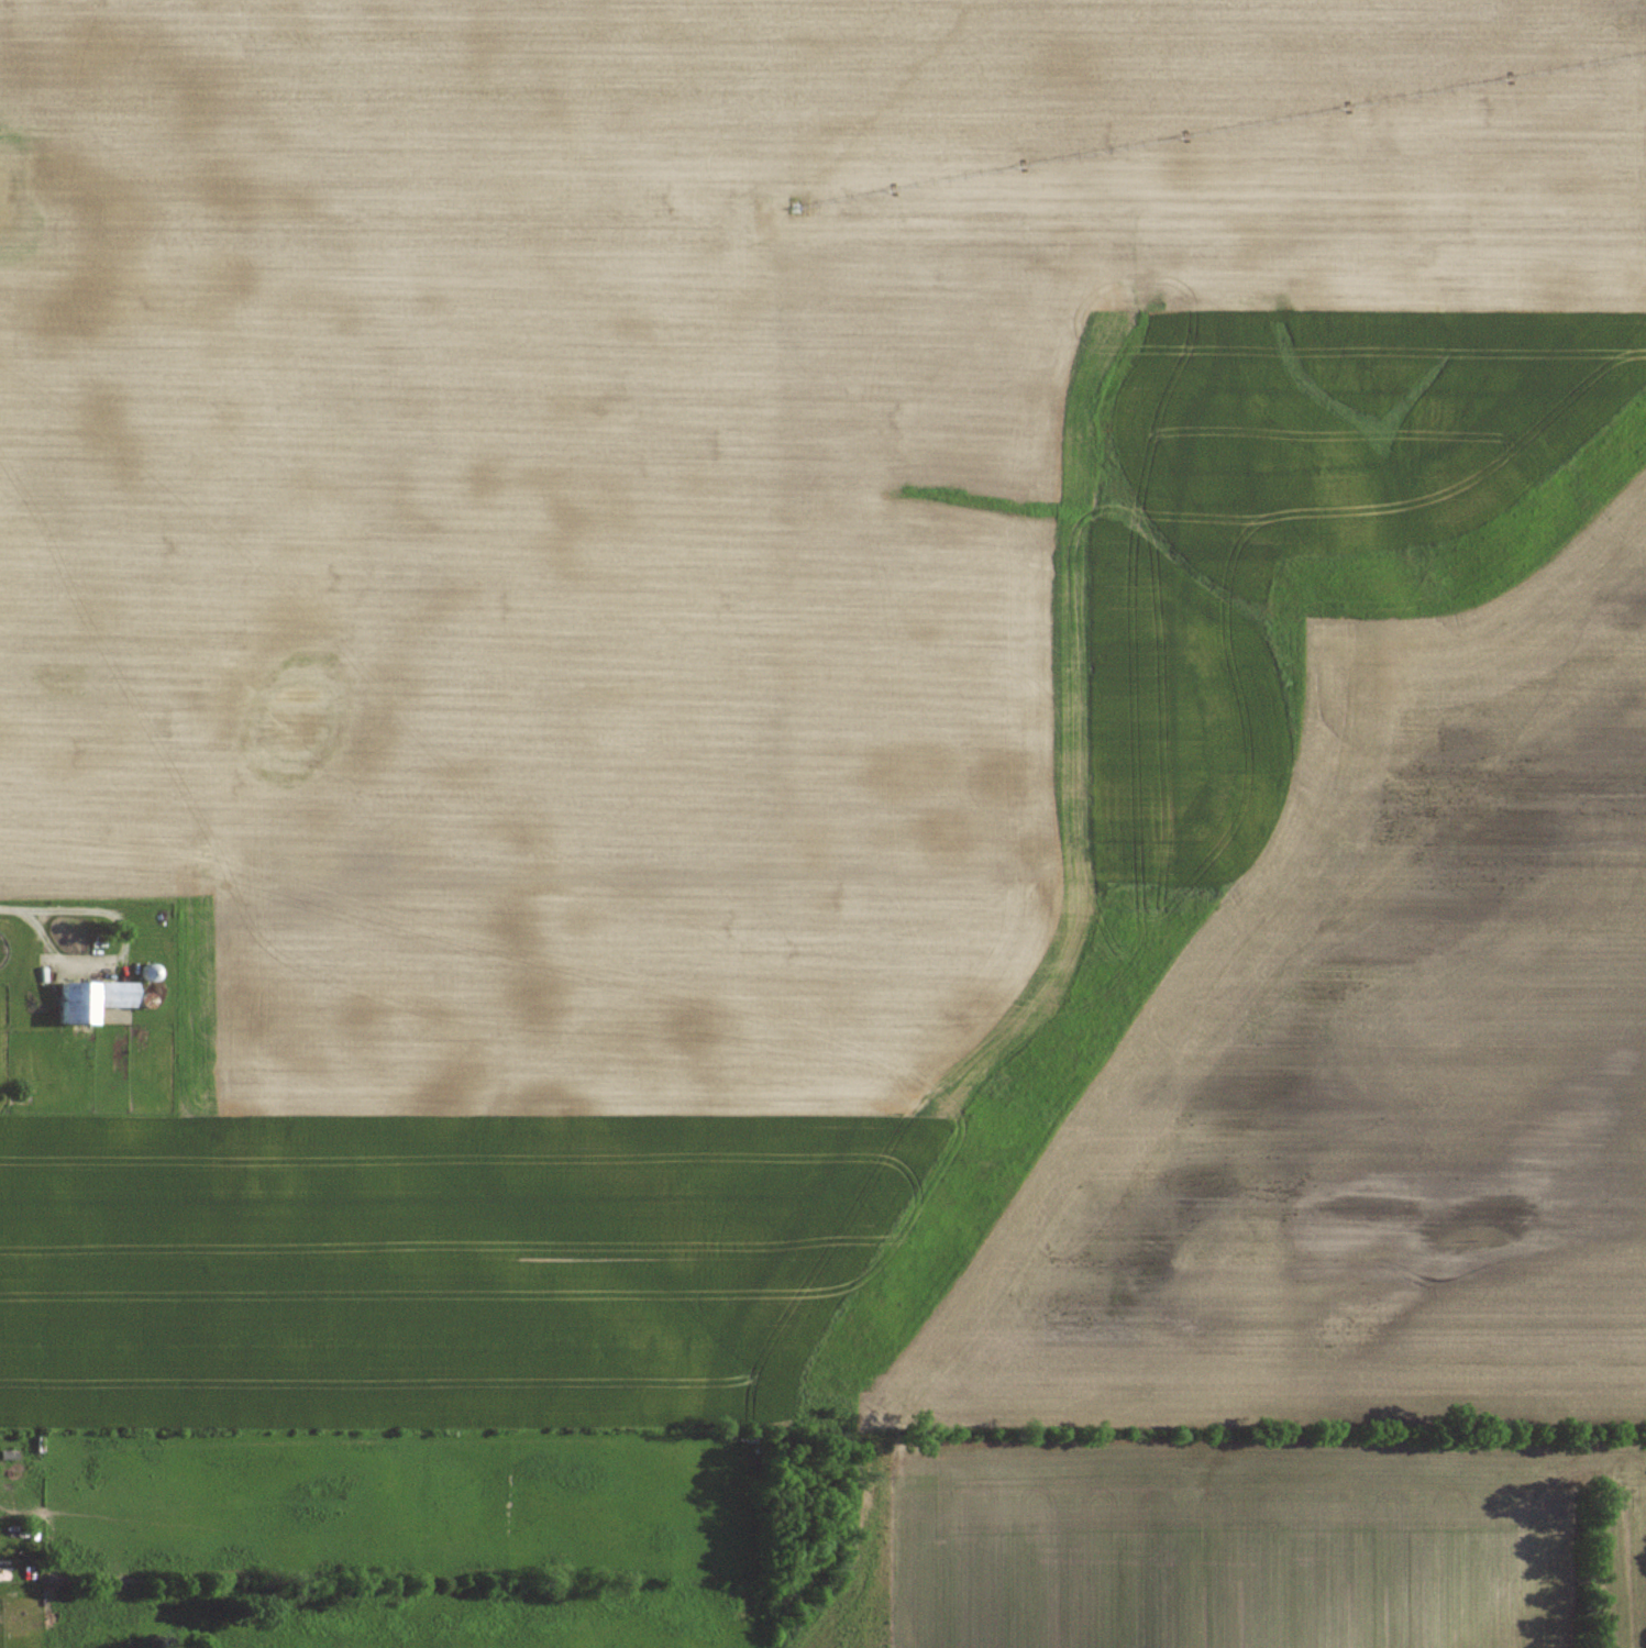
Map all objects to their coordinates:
road: (15, 903)
road: (132, 939)
building: (145, 972)
building: (86, 998)

